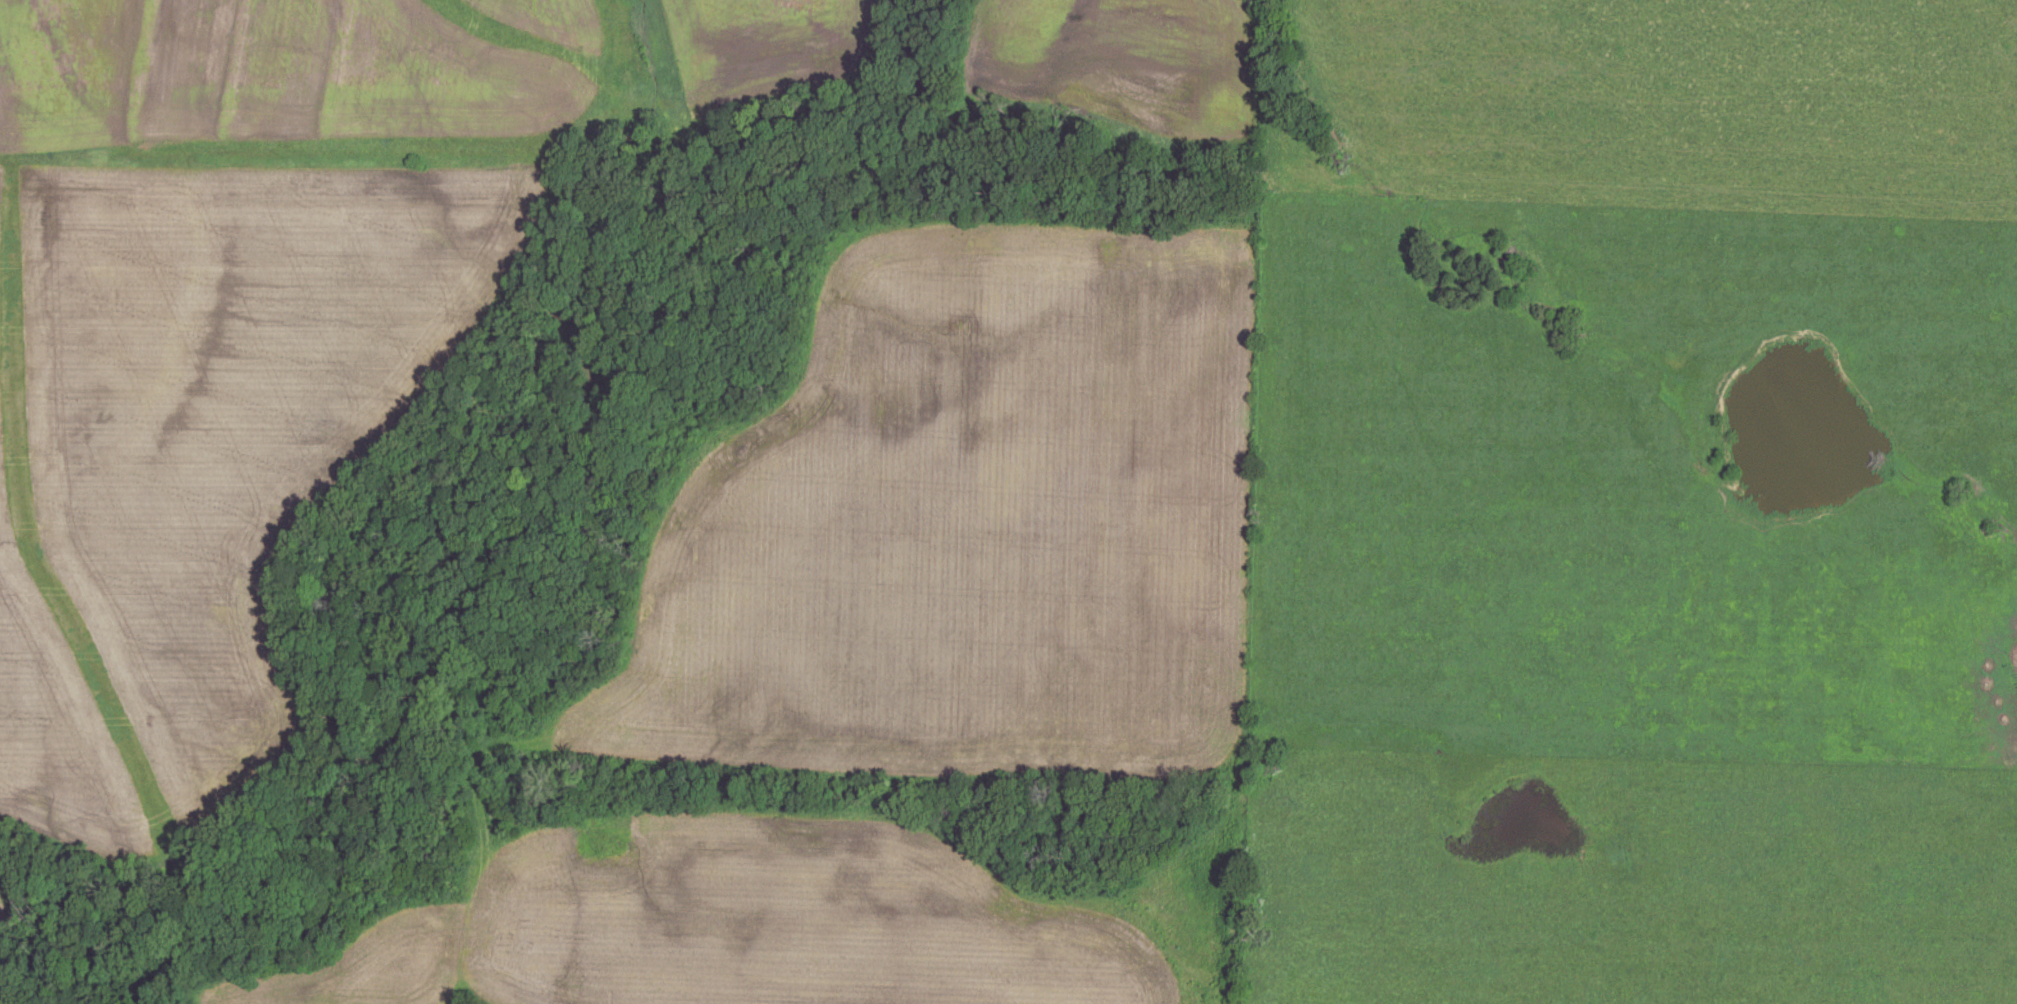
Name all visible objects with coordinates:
crop: (314, 80)
crop: (14, 938)

